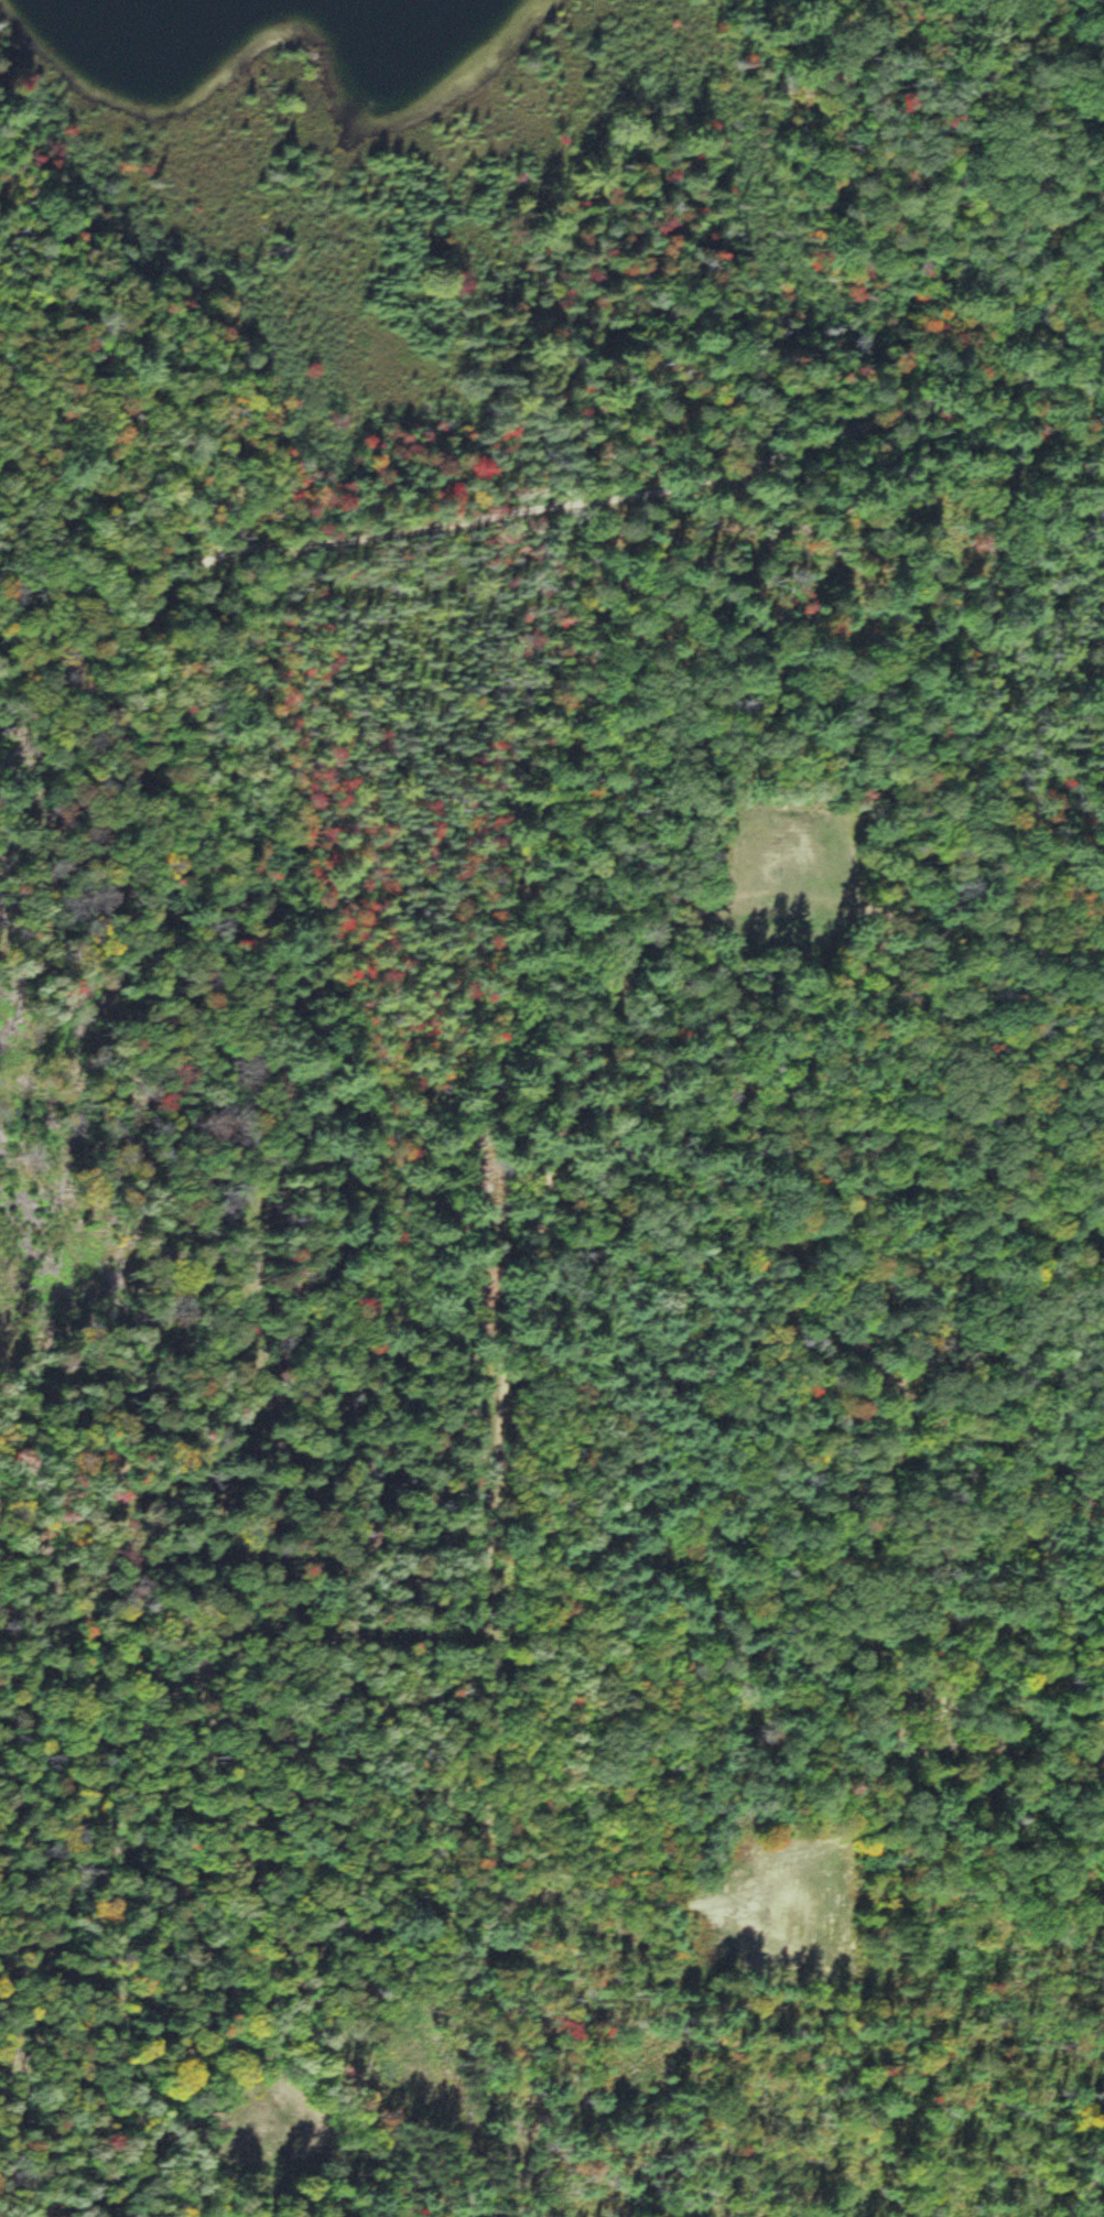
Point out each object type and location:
road: (546, 504)
petroleum well: (764, 866)
road: (1084, 1599)
road: (137, 1808)
petroleum well: (760, 1914)
road: (1086, 2139)

